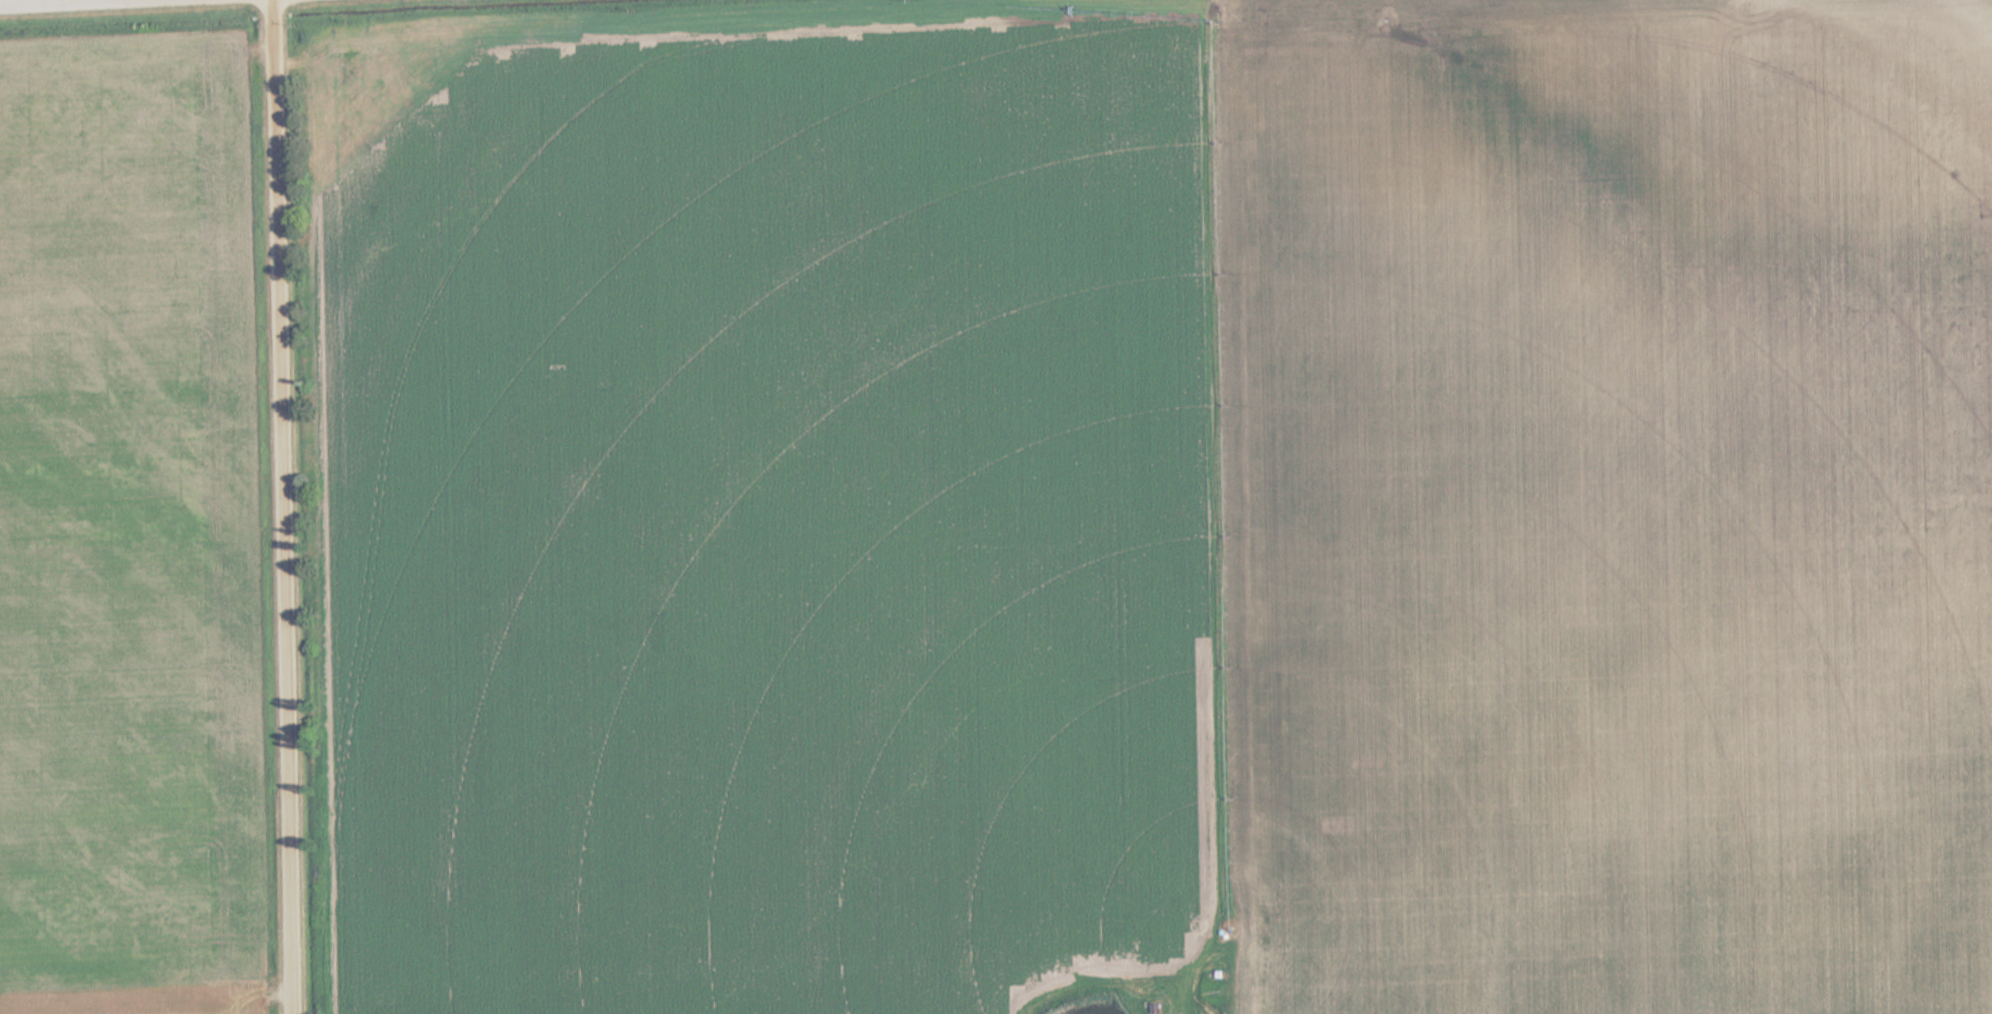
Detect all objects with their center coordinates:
road: (54, 2)
road: (283, 506)

